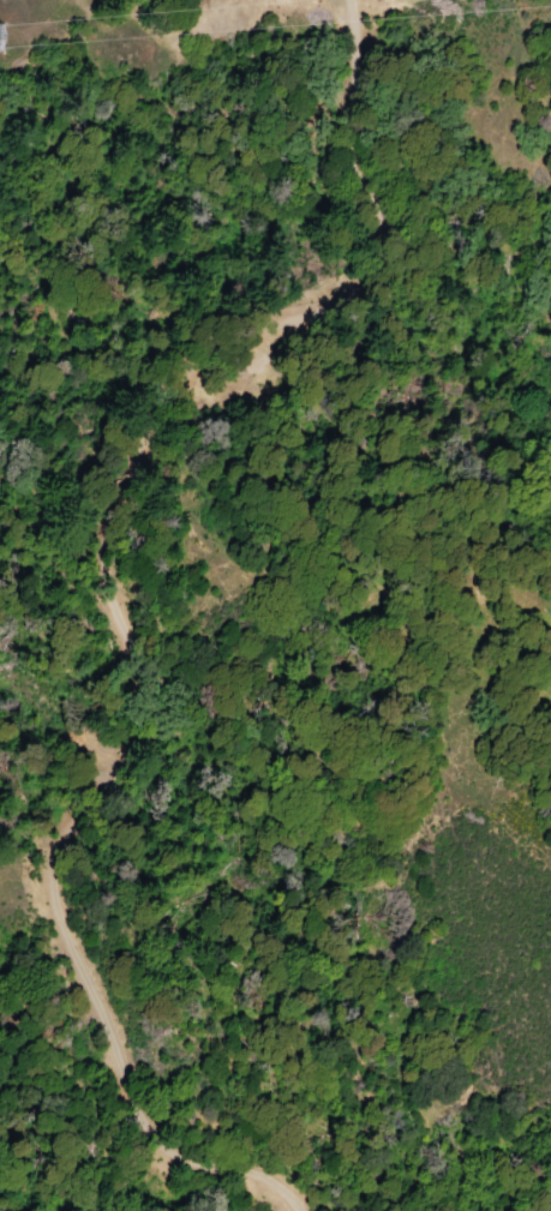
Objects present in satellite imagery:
road: (334, 154)
road: (119, 1071)

